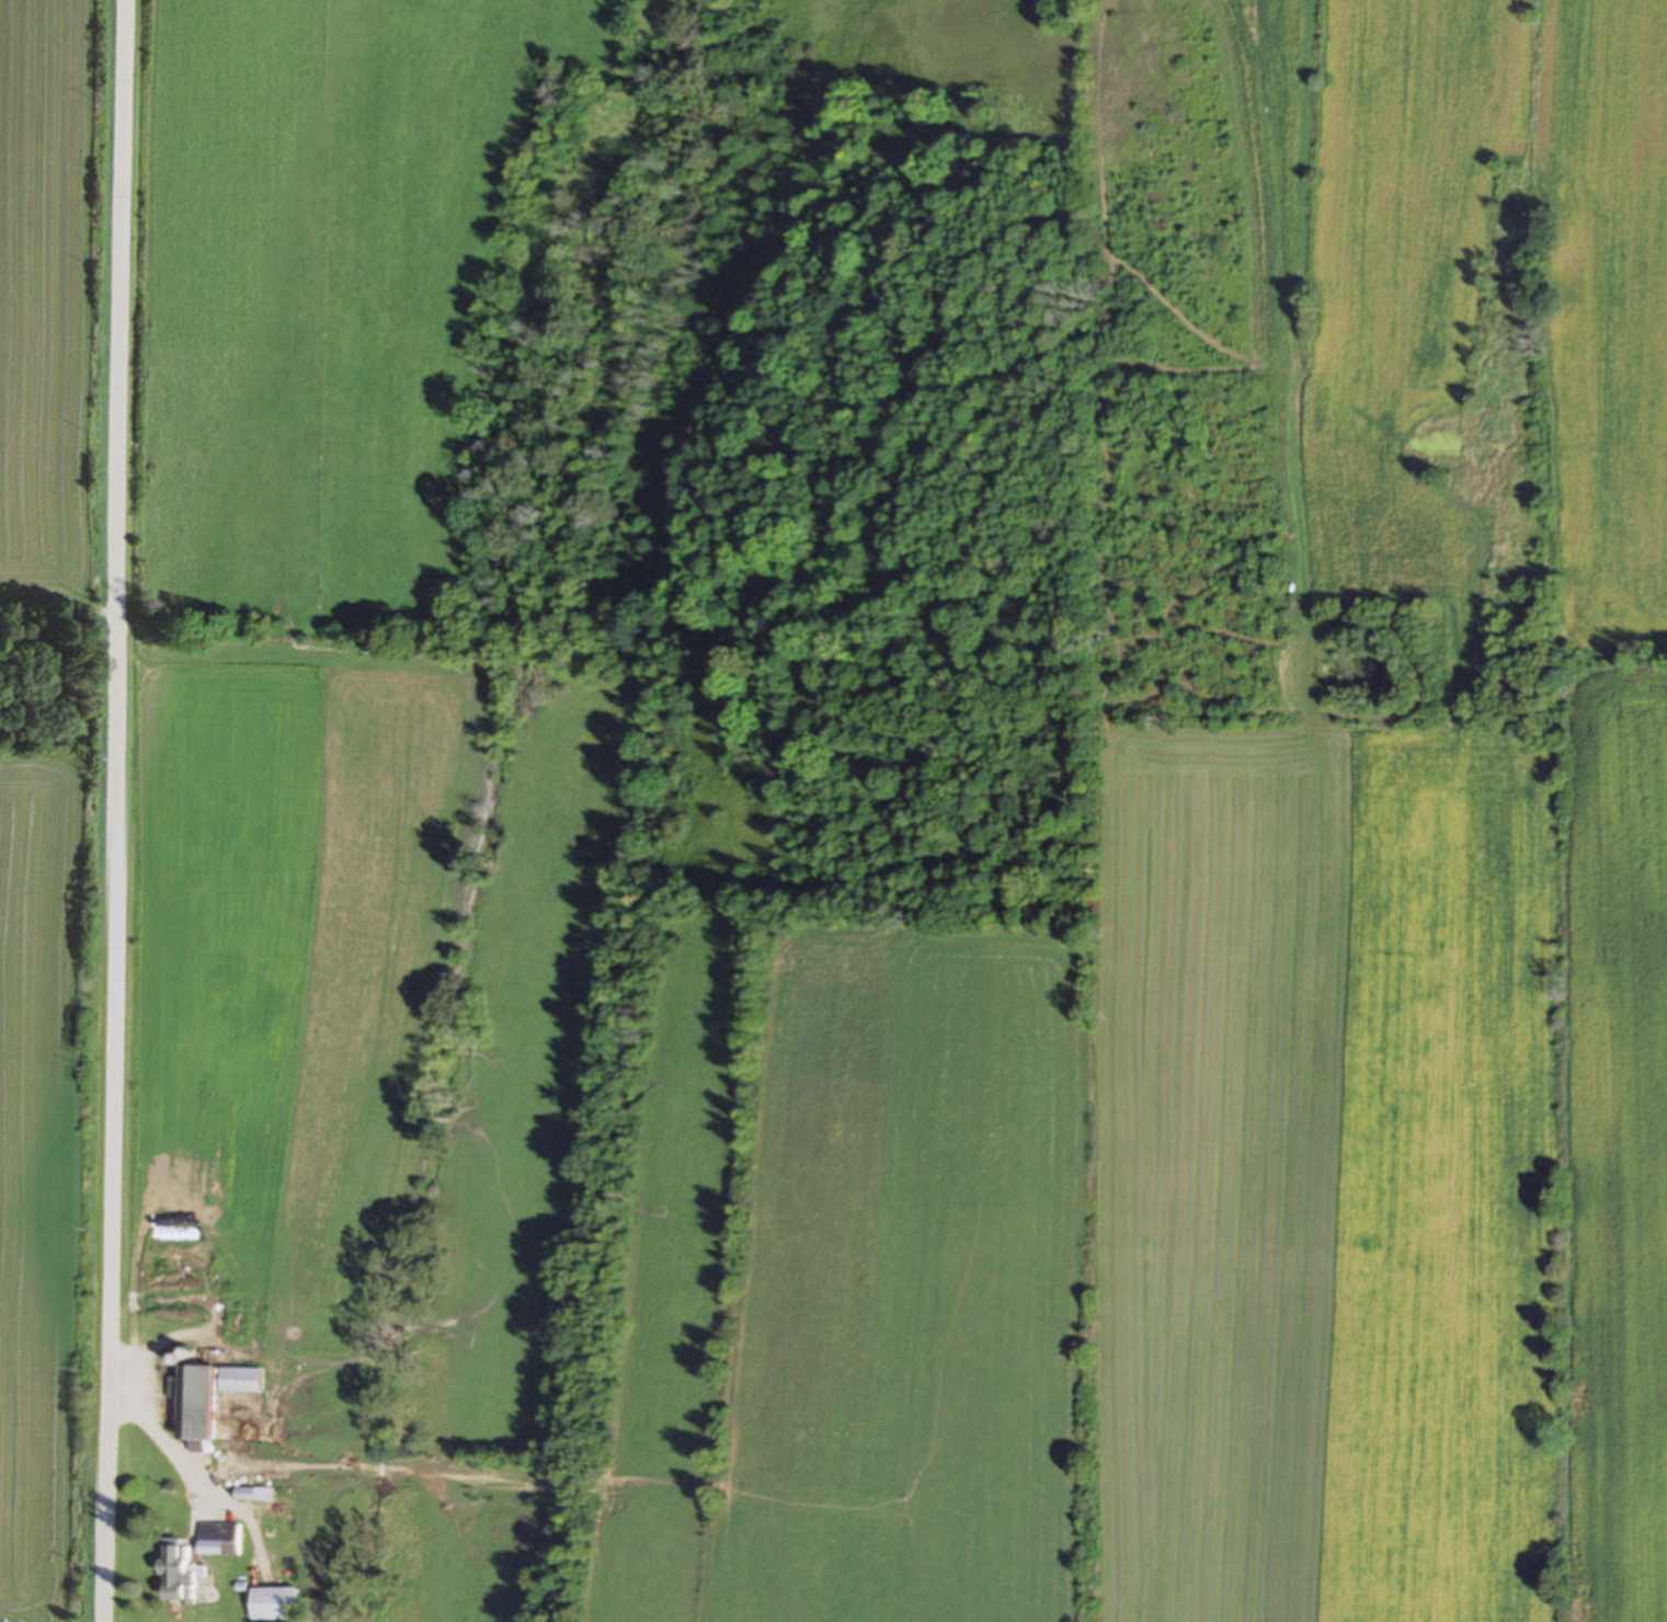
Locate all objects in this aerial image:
road: (119, 811)
building: (237, 1380)
building: (192, 1402)
road: (159, 1437)
building: (251, 1494)
building: (216, 1534)
building: (173, 1569)
building: (272, 1604)

